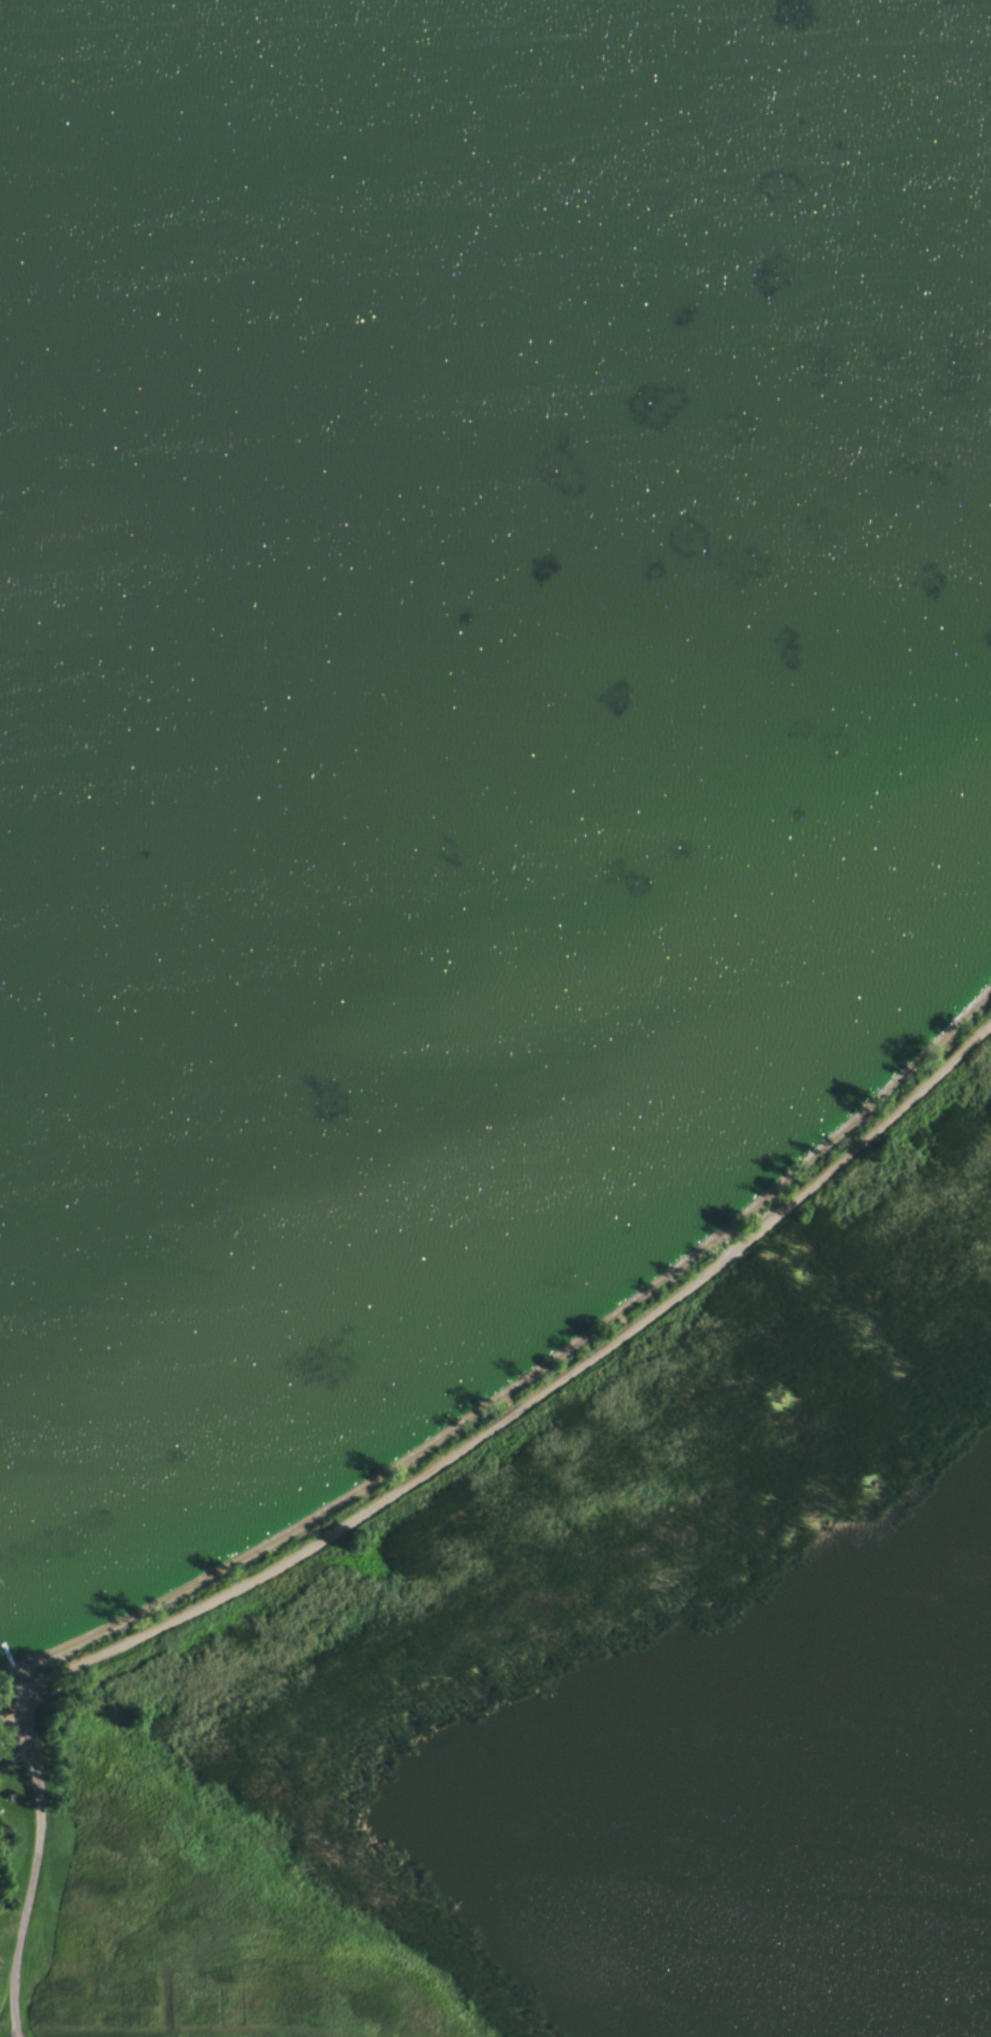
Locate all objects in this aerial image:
road: (521, 1406)
road: (43, 1862)

